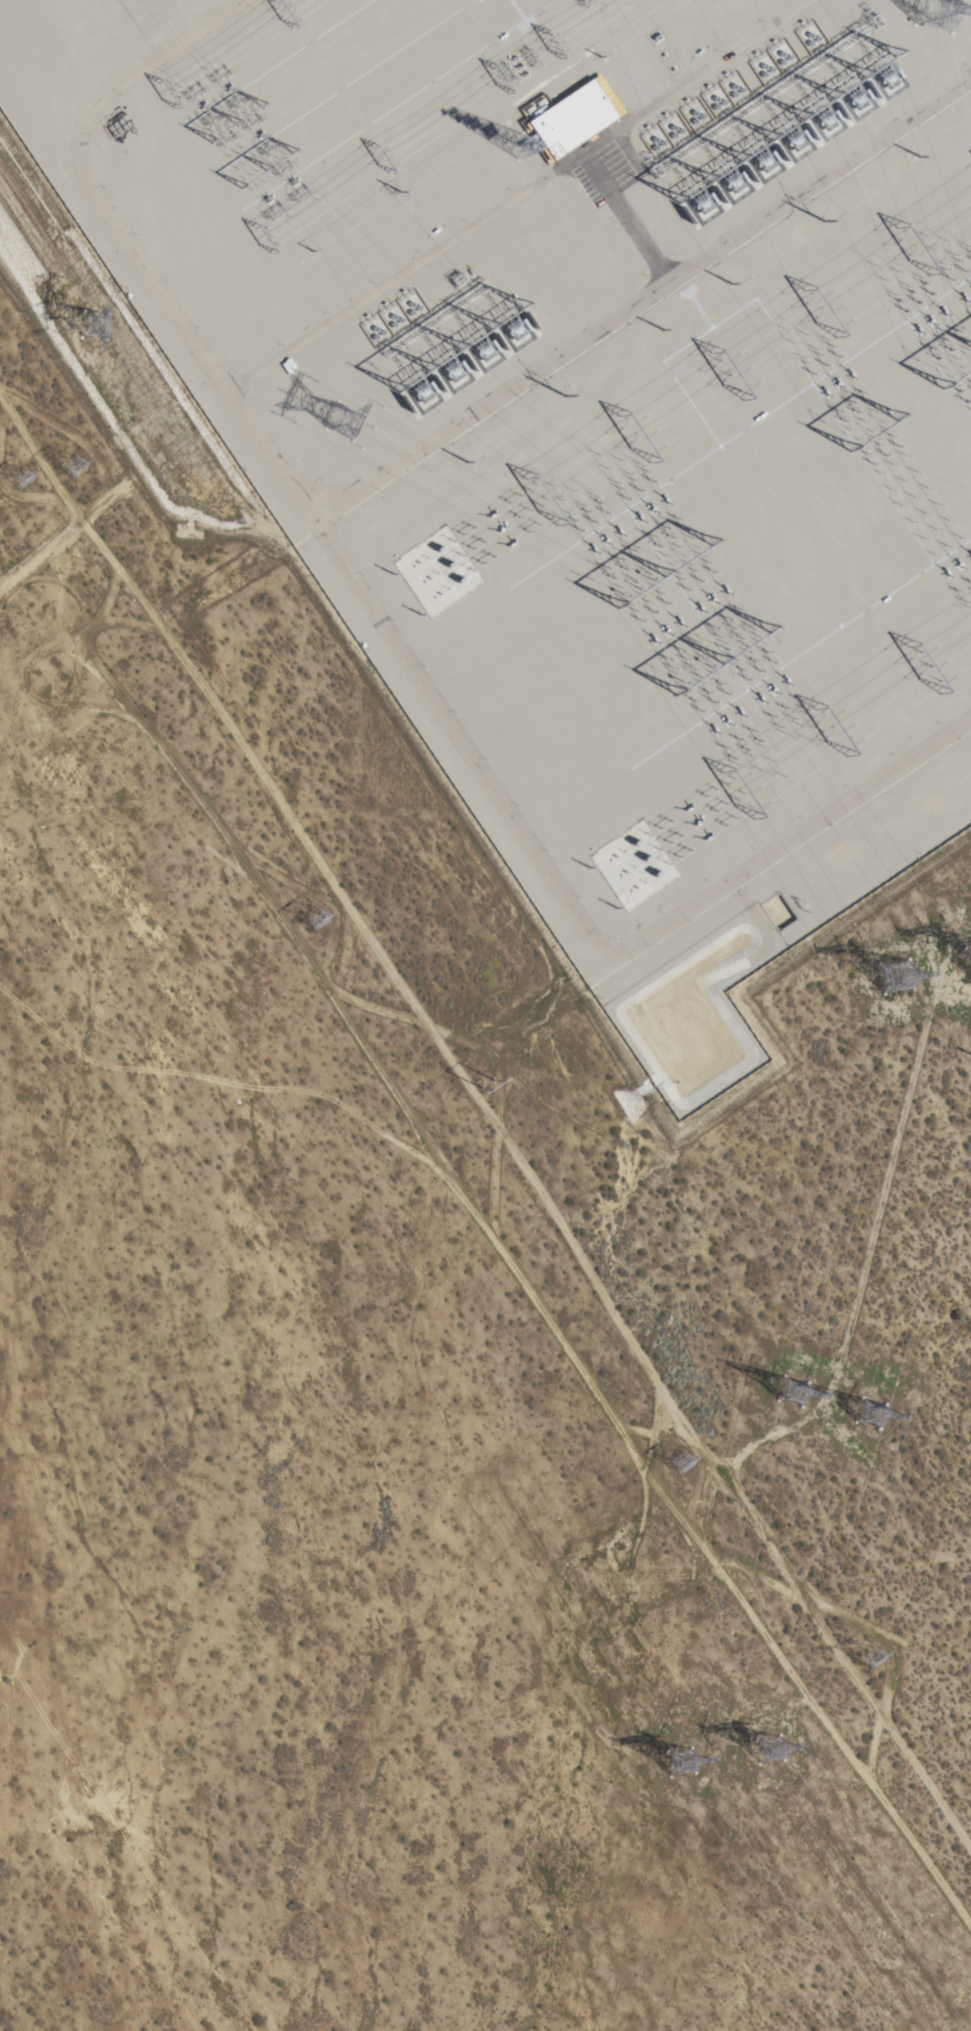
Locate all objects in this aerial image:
power tower: (968, 6)
power tower: (99, 326)
power substation: (587, 416)
power tower: (350, 427)
power tower: (76, 464)
power tower: (24, 483)
road: (62, 547)
power tower: (316, 921)
power tower: (892, 983)
power tower: (477, 1072)
power tower: (799, 1398)
power tower: (883, 1418)
power tower: (679, 1462)
power tower: (875, 1662)
power tower: (784, 1753)
power tower: (681, 1766)

